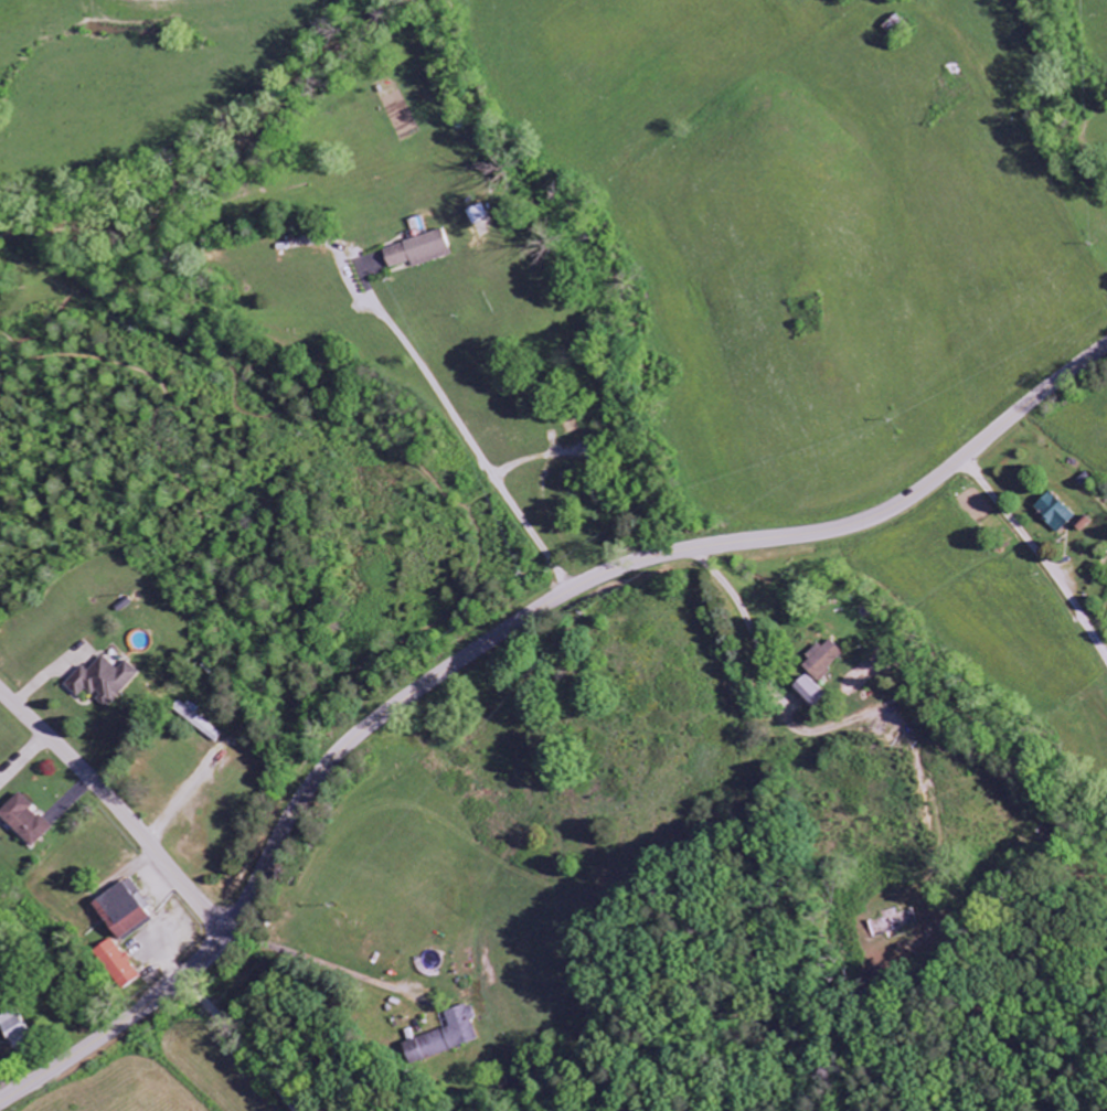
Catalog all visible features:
building: (417, 250)
park: (810, 313)
building: (1051, 512)
road: (422, 532)
road: (1036, 554)
road: (494, 638)
building: (824, 661)
building: (103, 681)
building: (807, 691)
building: (195, 719)
road: (117, 805)
building: (25, 821)
building: (125, 911)
building: (118, 964)
building: (13, 1030)
building: (456, 1030)
road: (242, 1044)

